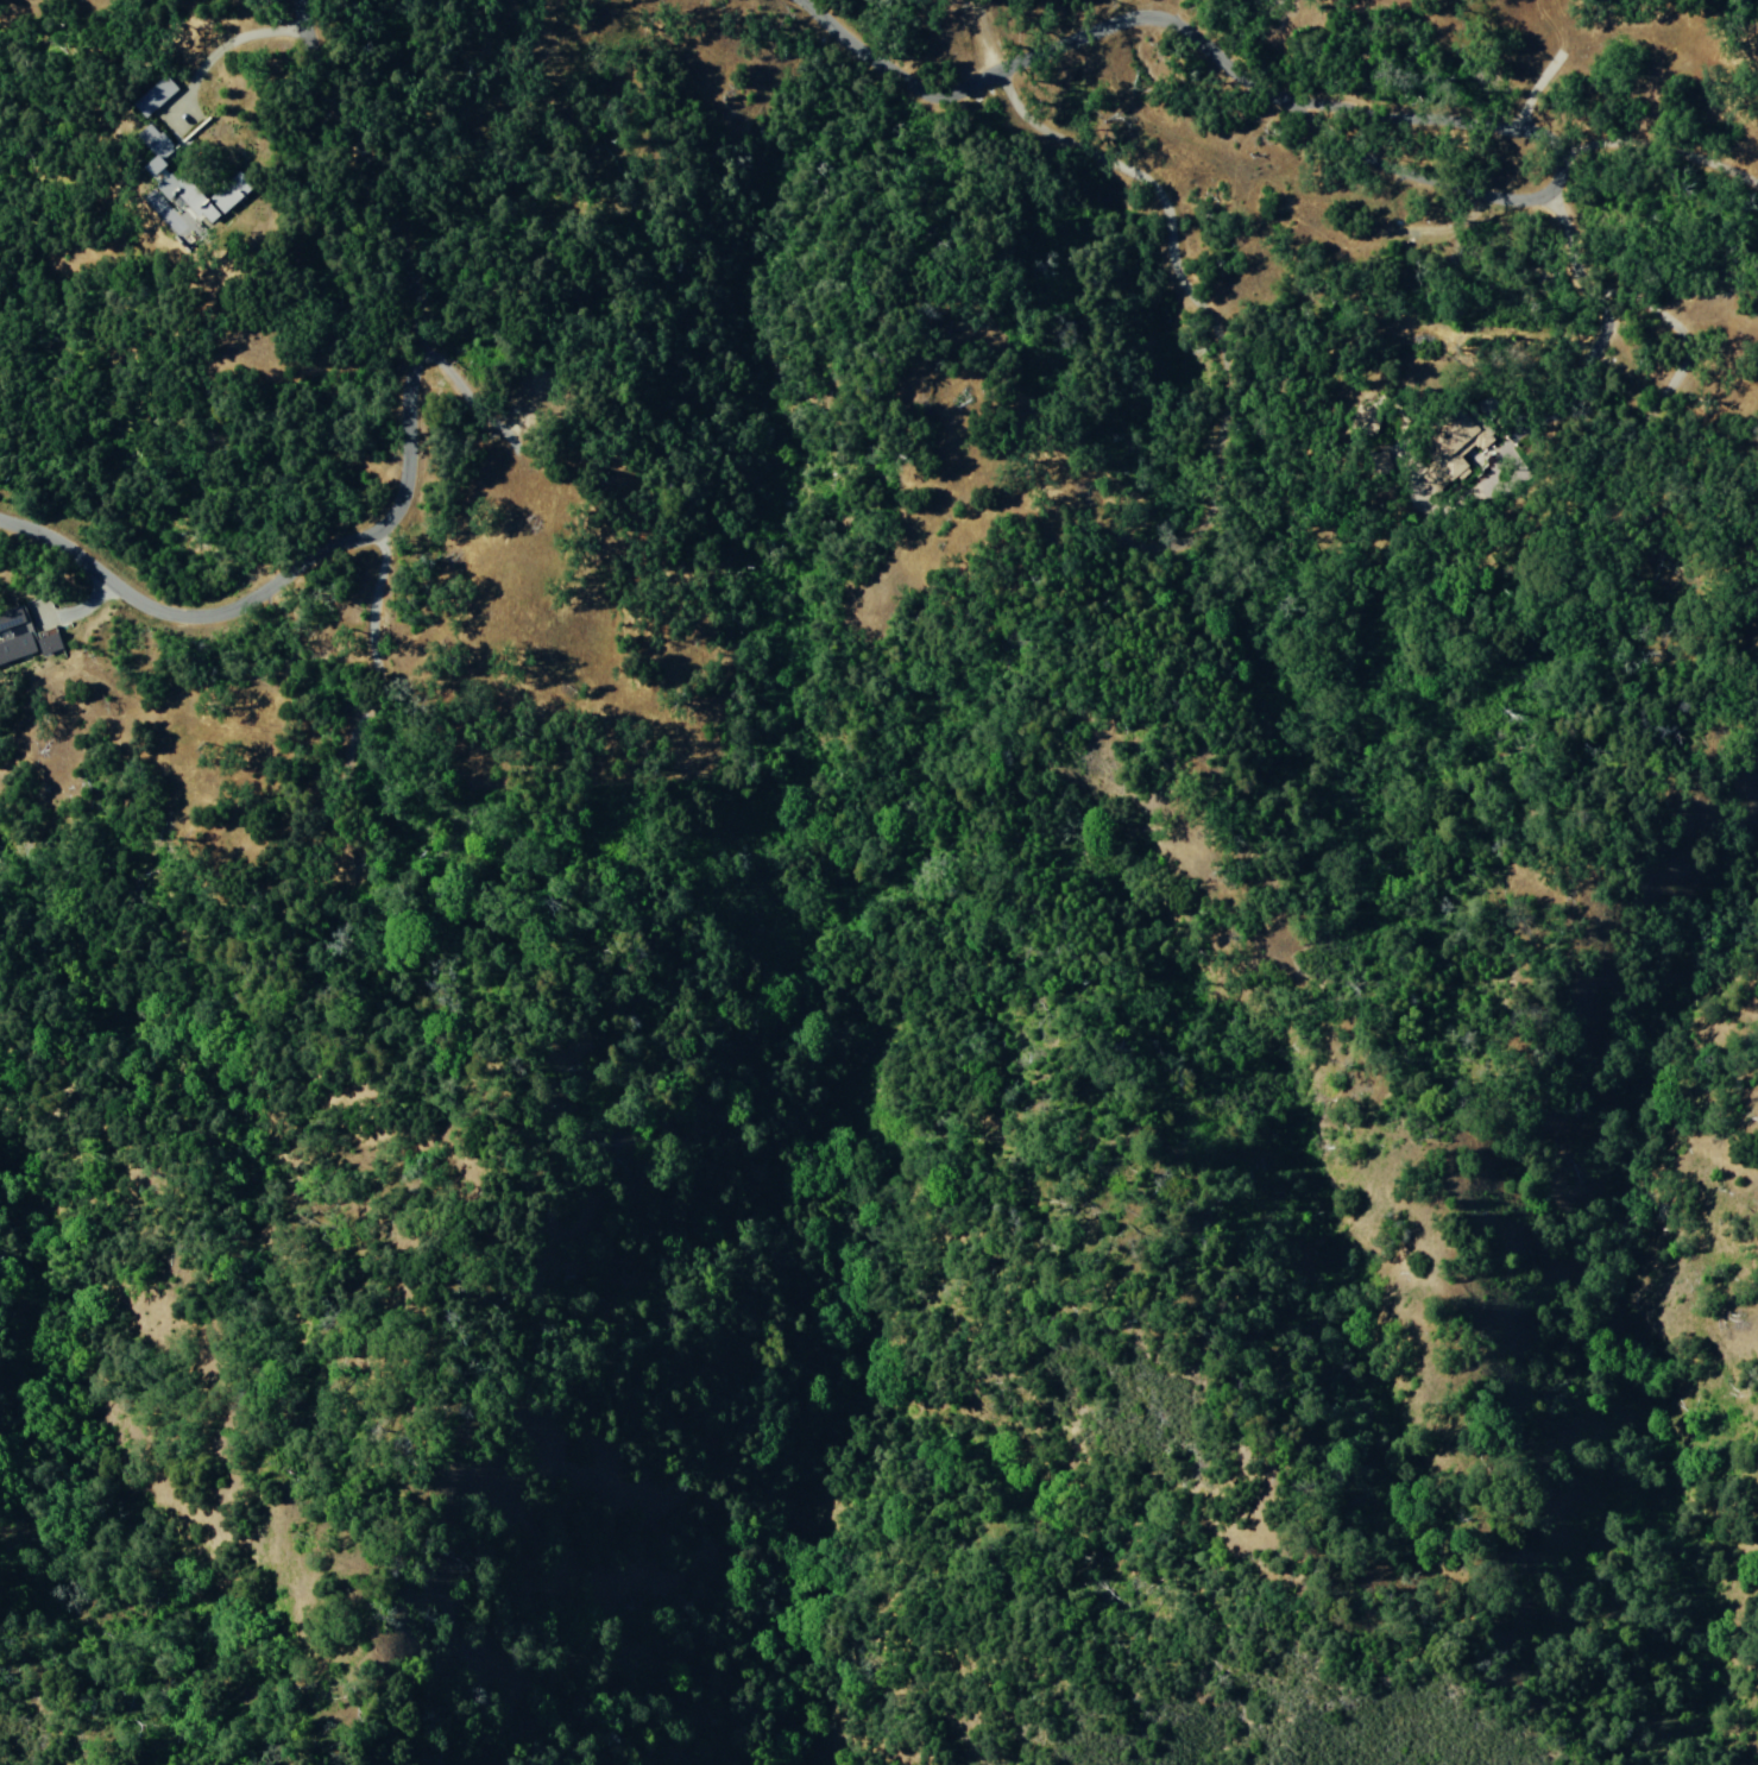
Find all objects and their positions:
road: (1054, 40)
road: (1552, 181)
building: (1366, 420)
building: (1455, 447)
road: (411, 472)

